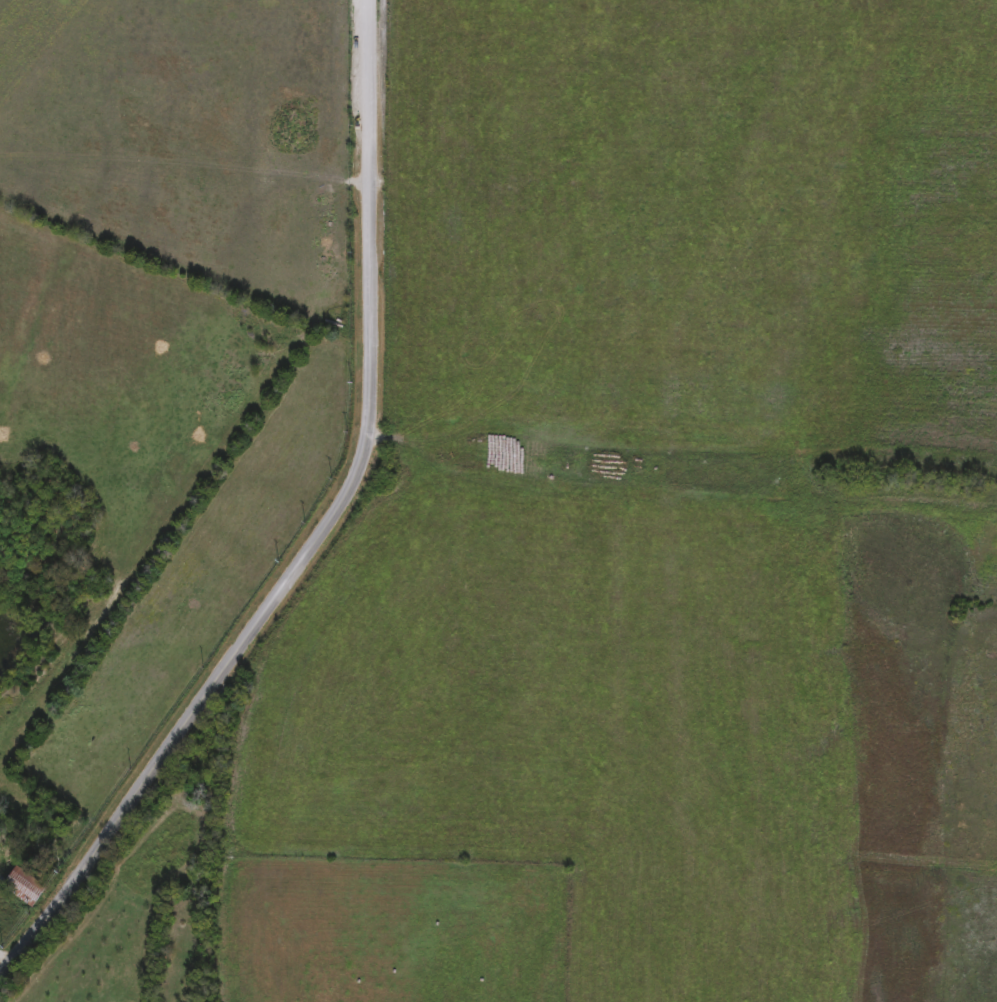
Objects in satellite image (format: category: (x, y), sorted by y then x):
road: (322, 536)
building: (21, 886)
road: (8, 954)

